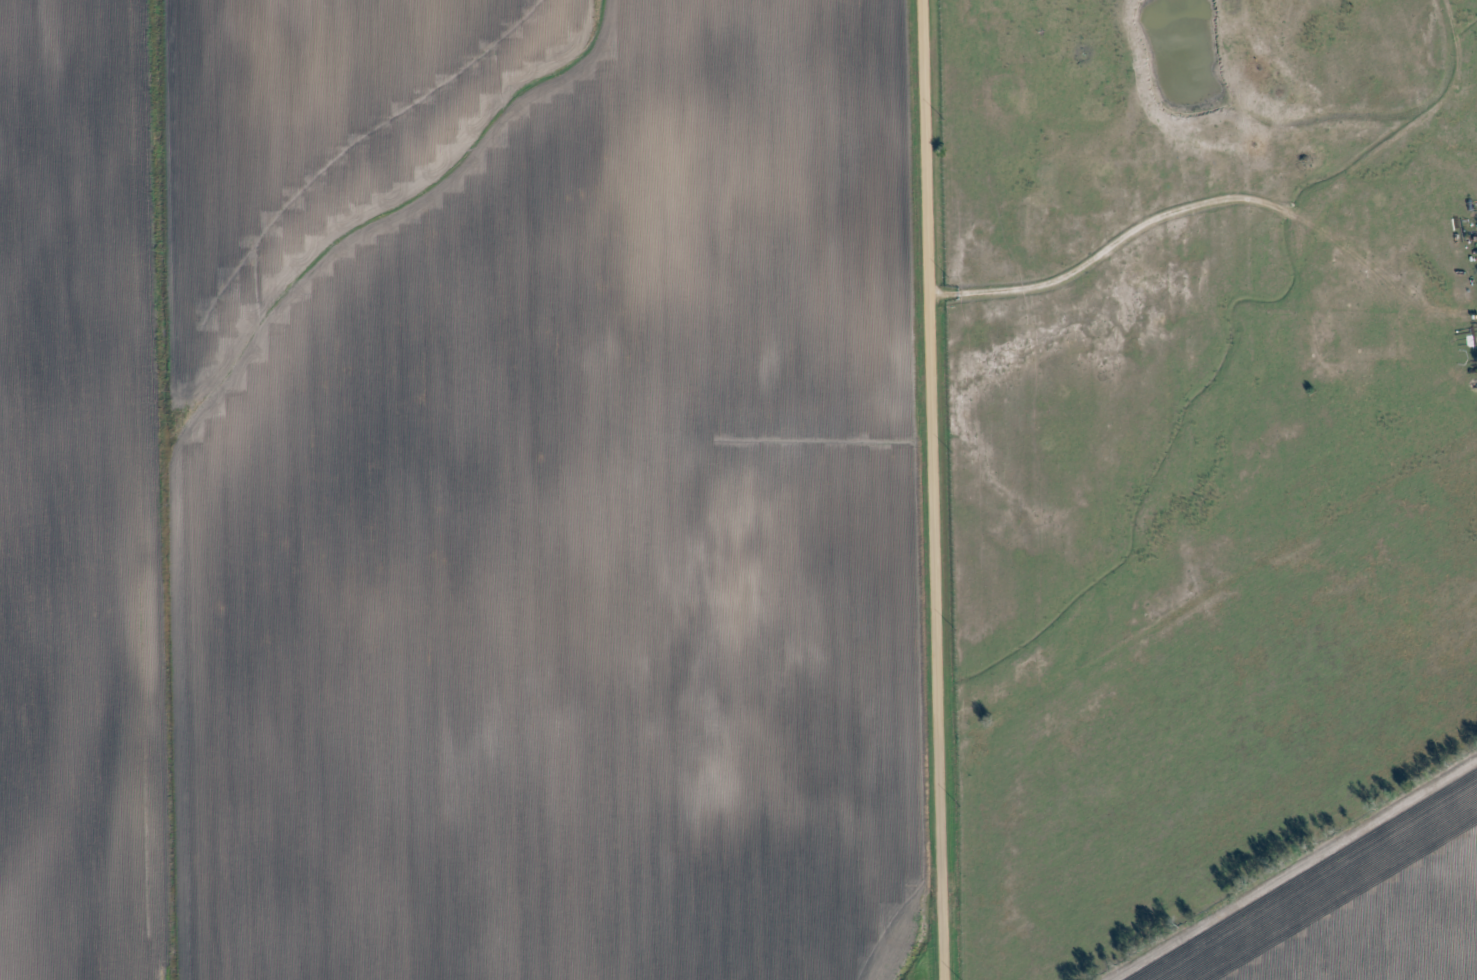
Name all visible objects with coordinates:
road: (936, 490)

